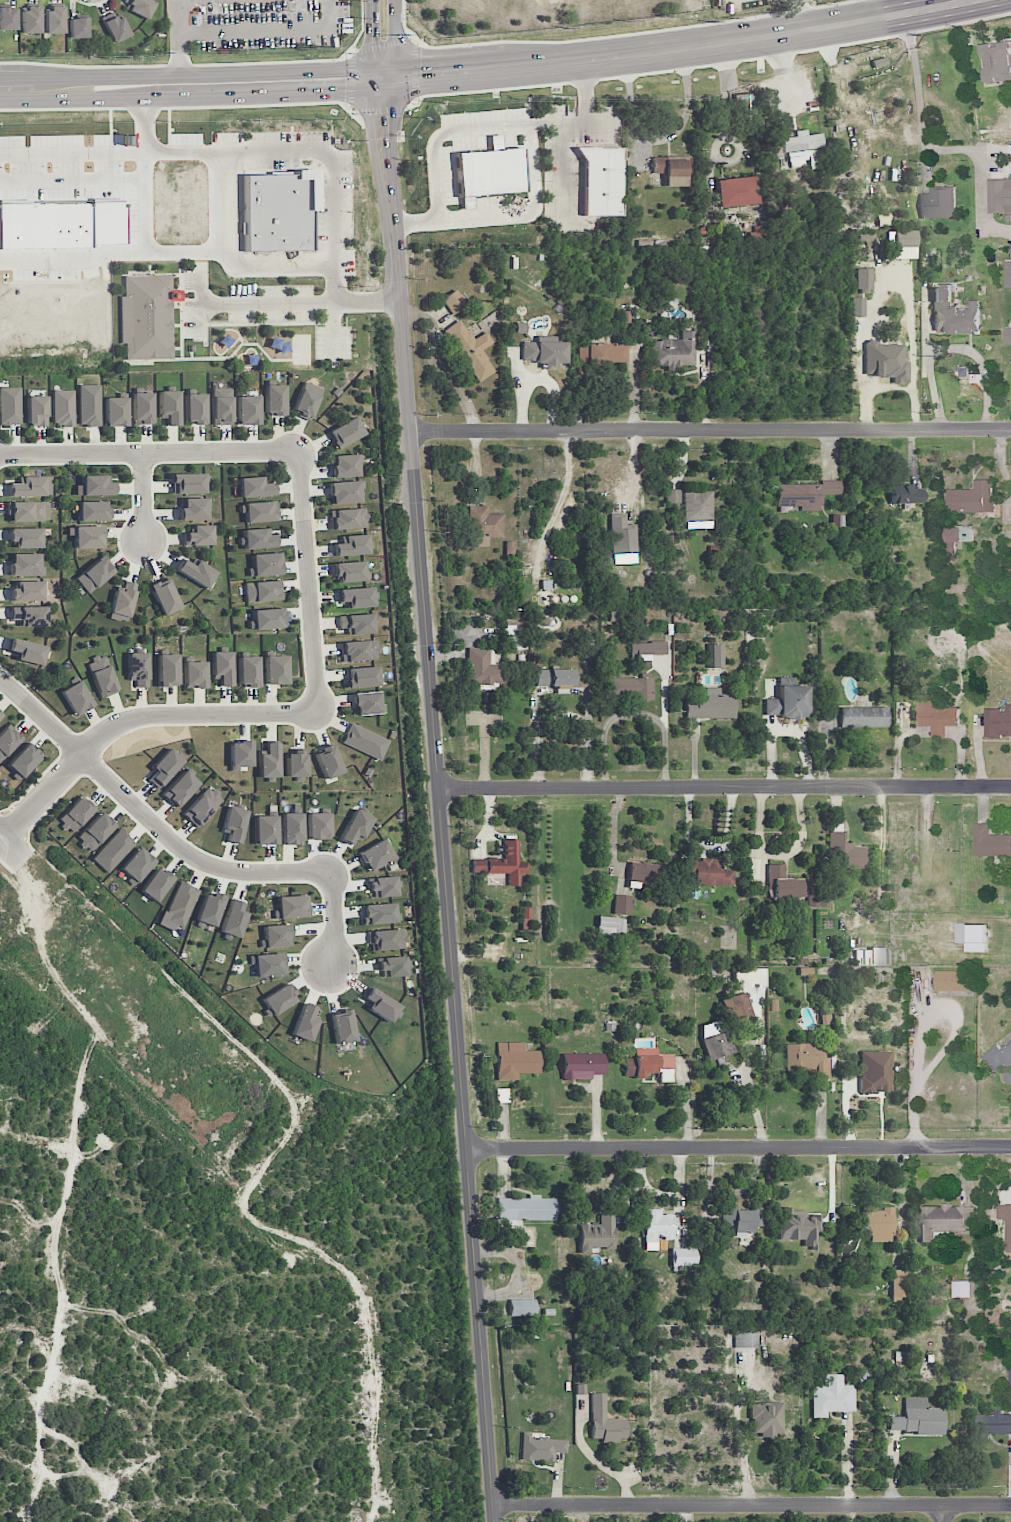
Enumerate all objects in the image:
park: (548, 0)
road: (180, 3)
building: (138, 7)
road: (878, 9)
road: (179, 14)
road: (204, 15)
road: (806, 15)
building: (7, 18)
building: (31, 19)
building: (54, 19)
parking lot: (267, 23)
building: (114, 26)
building: (78, 27)
road: (267, 28)
road: (612, 36)
road: (395, 38)
road: (372, 39)
traffic signals: (373, 41)
road: (382, 44)
road: (683, 47)
road: (179, 53)
road: (294, 61)
building: (997, 61)
building: (878, 62)
road: (708, 64)
road: (89, 66)
road: (415, 71)
road: (212, 73)
traffic signals: (421, 74)
road: (383, 77)
road: (352, 79)
road: (726, 88)
road: (26, 89)
traffic signals: (345, 90)
road: (586, 90)
road: (213, 95)
building: (743, 101)
road: (188, 107)
road: (381, 109)
road: (391, 115)
traffic signals: (391, 116)
road: (574, 122)
road: (661, 138)
road: (531, 147)
road: (716, 148)
road: (932, 148)
building: (803, 149)
road: (283, 150)
road: (375, 152)
road: (72, 153)
building: (672, 170)
building: (489, 172)
road: (563, 174)
building: (601, 180)
road: (73, 187)
road: (392, 190)
building: (735, 191)
building: (1000, 195)
road: (146, 203)
building: (938, 204)
parking lot: (334, 208)
building: (276, 212)
building: (67, 226)
road: (239, 228)
building: (900, 238)
building: (904, 252)
road: (115, 255)
road: (232, 256)
building: (1008, 273)
building: (863, 278)
building: (453, 301)
road: (367, 302)
road: (268, 304)
building: (857, 306)
parking lot: (260, 308)
building: (953, 313)
road: (181, 314)
building: (146, 317)
road: (334, 330)
building: (1008, 336)
road: (951, 345)
road: (239, 346)
road: (864, 348)
building: (470, 349)
building: (674, 350)
building: (544, 351)
building: (600, 353)
building: (274, 399)
building: (306, 400)
building: (10, 405)
building: (89, 405)
building: (168, 406)
building: (221, 406)
building: (63, 407)
building: (142, 408)
building: (195, 408)
building: (247, 409)
building: (36, 410)
building: (116, 411)
building: (345, 432)
road: (709, 432)
road: (149, 451)
building: (344, 465)
road: (633, 465)
building: (187, 483)
building: (96, 485)
building: (31, 486)
building: (254, 487)
building: (830, 487)
building: (345, 492)
building: (906, 493)
building: (673, 495)
building: (799, 495)
road: (143, 497)
building: (972, 497)
road: (561, 500)
building: (697, 505)
building: (193, 508)
building: (92, 510)
building: (28, 511)
building: (258, 511)
building: (348, 518)
building: (483, 525)
building: (622, 534)
building: (958, 534)
building: (198, 535)
building: (88, 536)
building: (25, 537)
building: (258, 538)
building: (351, 545)
building: (950, 549)
building: (25, 564)
building: (265, 564)
building: (350, 571)
building: (195, 572)
building: (93, 574)
road: (308, 581)
building: (27, 590)
building: (262, 590)
building: (164, 596)
building: (355, 597)
building: (123, 599)
building: (29, 615)
building: (268, 617)
building: (356, 623)
building: (515, 631)
building: (359, 650)
building: (27, 651)
building: (715, 655)
building: (222, 667)
building: (483, 667)
building: (138, 668)
building: (275, 669)
building: (167, 670)
building: (248, 671)
building: (194, 674)
building: (101, 676)
building: (361, 676)
building: (554, 677)
building: (631, 687)
road: (665, 696)
building: (76, 697)
building: (787, 702)
building: (366, 703)
road: (588, 703)
building: (710, 705)
building: (0, 714)
building: (863, 715)
building: (936, 715)
road: (136, 717)
building: (998, 721)
road: (610, 724)
road: (589, 728)
road: (536, 735)
building: (7, 740)
building: (364, 741)
road: (60, 751)
building: (240, 753)
road: (665, 758)
building: (23, 760)
building: (327, 760)
building: (269, 761)
building: (296, 763)
building: (164, 767)
road: (724, 787)
building: (180, 788)
road: (134, 793)
building: (201, 806)
building: (75, 813)
road: (148, 815)
building: (233, 824)
building: (318, 825)
building: (355, 826)
road: (13, 827)
building: (291, 828)
building: (265, 829)
building: (95, 831)
building: (990, 841)
road: (12, 850)
building: (113, 850)
building: (845, 851)
building: (375, 854)
road: (779, 854)
building: (503, 863)
road: (6, 865)
building: (136, 865)
road: (444, 873)
building: (706, 873)
building: (156, 883)
building: (784, 883)
building: (382, 886)
building: (818, 899)
building: (181, 904)
building: (622, 904)
building: (290, 906)
building: (209, 908)
building: (379, 913)
building: (233, 917)
road: (333, 918)
building: (524, 918)
building: (610, 925)
building: (275, 936)
building: (972, 936)
building: (386, 939)
building: (879, 955)
building: (862, 957)
building: (267, 964)
building: (391, 966)
building: (761, 977)
building: (954, 980)
building: (279, 997)
building: (380, 1004)
building: (737, 1006)
building: (304, 1022)
building: (342, 1026)
building: (717, 1043)
road: (219, 1055)
building: (998, 1057)
building: (806, 1058)
building: (515, 1060)
building: (649, 1064)
building: (581, 1065)
building: (875, 1071)
road: (738, 1146)
road: (55, 1157)
road: (731, 1191)
building: (525, 1209)
building: (742, 1219)
road: (223, 1221)
building: (944, 1221)
building: (1006, 1222)
building: (878, 1224)
building: (799, 1225)
road: (261, 1227)
building: (657, 1227)
building: (598, 1234)
building: (684, 1256)
building: (898, 1283)
building: (962, 1288)
building: (522, 1307)
building: (745, 1339)
road: (100, 1349)
building: (1009, 1375)
building: (832, 1396)
building: (766, 1418)
building: (919, 1418)
building: (605, 1421)
building: (992, 1422)
road: (740, 1439)
building: (541, 1447)
road: (751, 1505)
road: (247, 1511)
road: (940, 1513)

